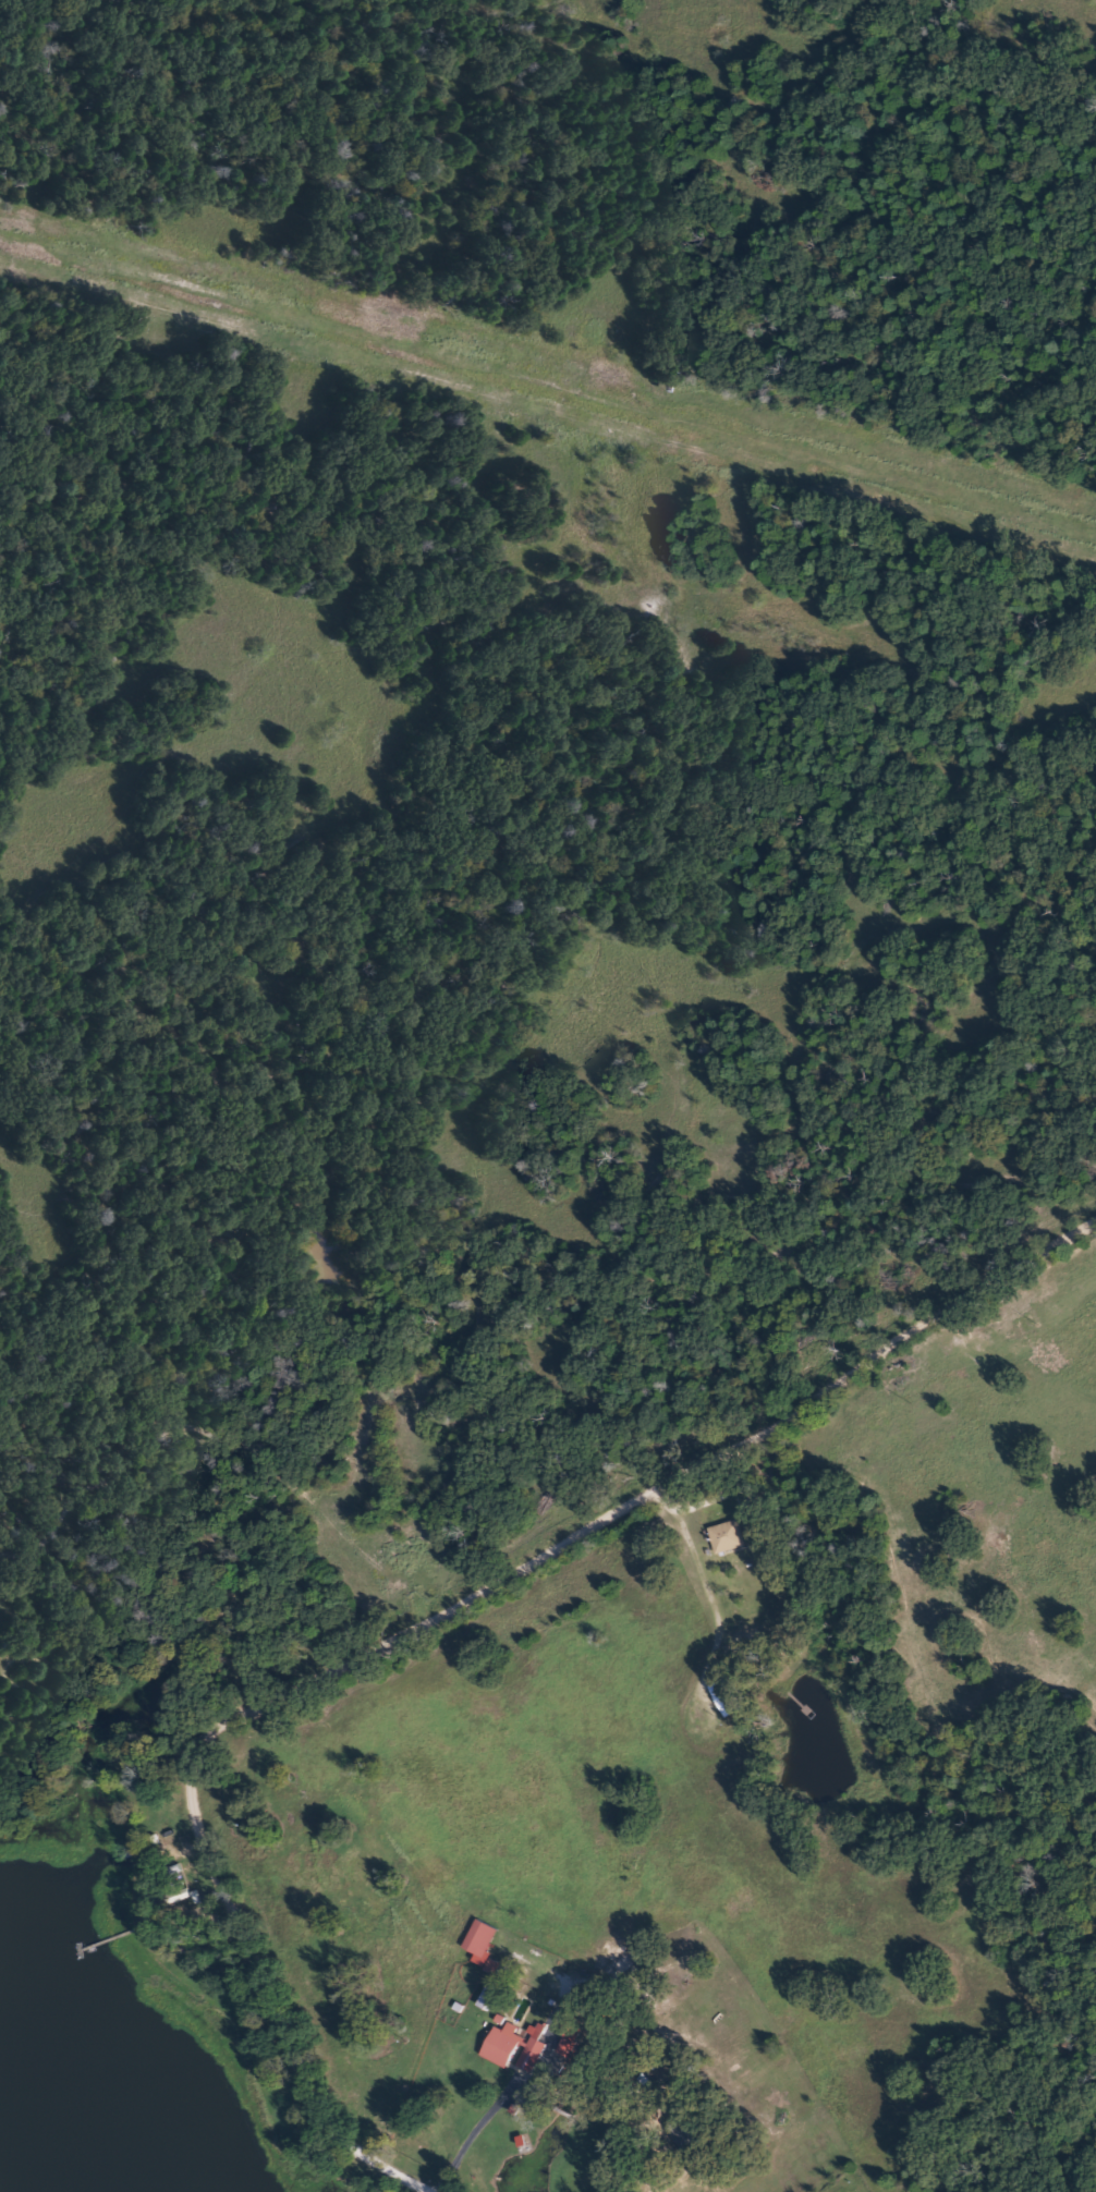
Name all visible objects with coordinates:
building: (726, 1535)
road: (682, 1537)
road: (412, 1624)
building: (726, 1696)
building: (478, 1937)
building: (485, 1999)
building: (512, 2047)
road: (658, 2157)

